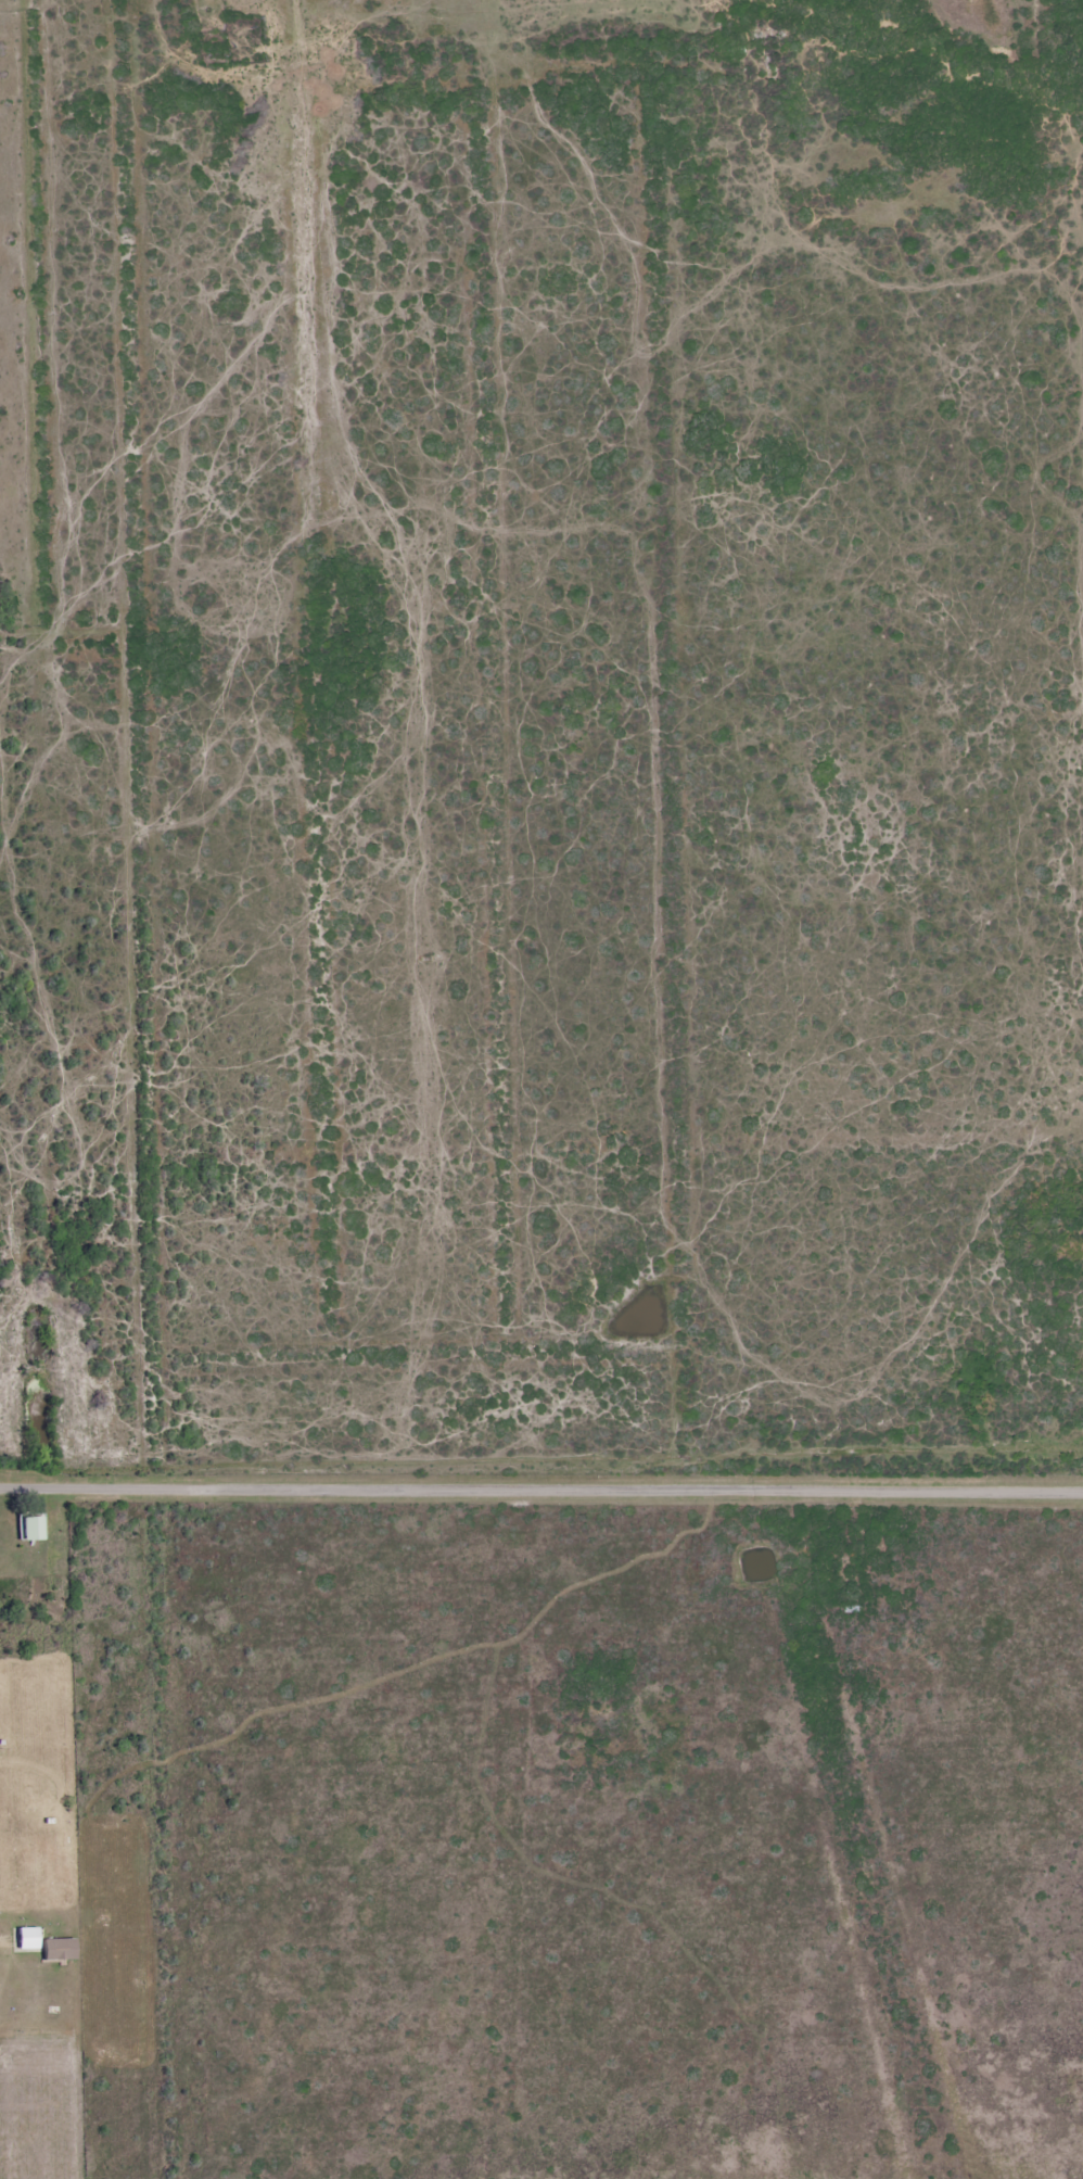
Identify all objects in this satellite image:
road: (541, 1483)
building: (31, 1528)
building: (27, 1938)
building: (59, 1949)

